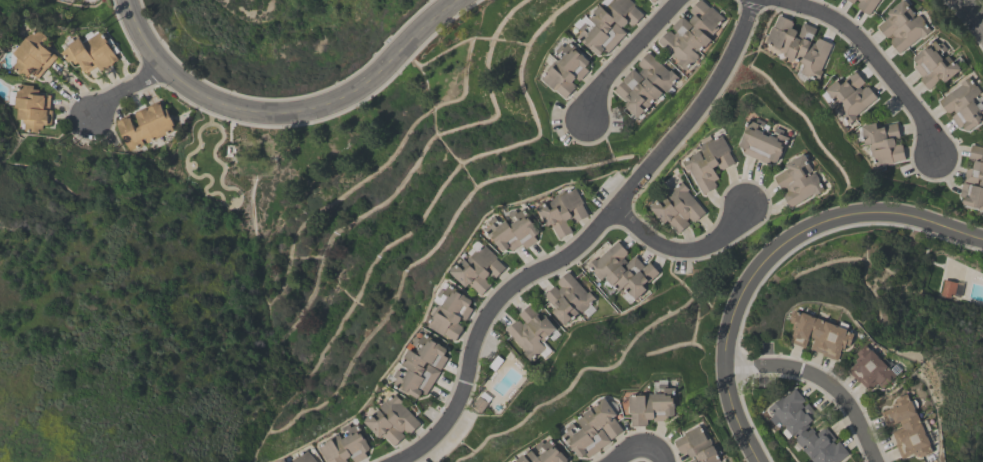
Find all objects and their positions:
building: (90, 0)
building: (652, 0)
building: (852, 0)
building: (866, 5)
road: (972, 12)
building: (608, 24)
building: (902, 25)
building: (690, 32)
building: (798, 44)
building: (90, 51)
building: (32, 53)
road: (621, 55)
building: (934, 63)
building: (566, 68)
road: (885, 70)
building: (643, 84)
road: (128, 87)
building: (849, 95)
building: (963, 103)
building: (31, 107)
road: (289, 110)
building: (145, 124)
building: (763, 140)
building: (882, 142)
building: (708, 162)
building: (798, 179)
building: (973, 179)
building: (677, 207)
building: (563, 210)
building: (513, 230)
road: (580, 242)
road: (681, 253)
road: (771, 257)
building: (478, 268)
building: (622, 270)
building: (946, 287)
building: (567, 297)
building: (450, 310)
building: (530, 330)
building: (820, 333)
building: (421, 367)
building: (873, 368)
road: (823, 381)
building: (479, 403)
building: (652, 405)
building: (392, 419)
building: (796, 424)
building: (907, 427)
building: (593, 428)
building: (346, 445)
building: (697, 445)
road: (633, 447)
building: (544, 453)
building: (303, 457)
building: (282, 460)
building: (693, 460)
building: (514, 461)

